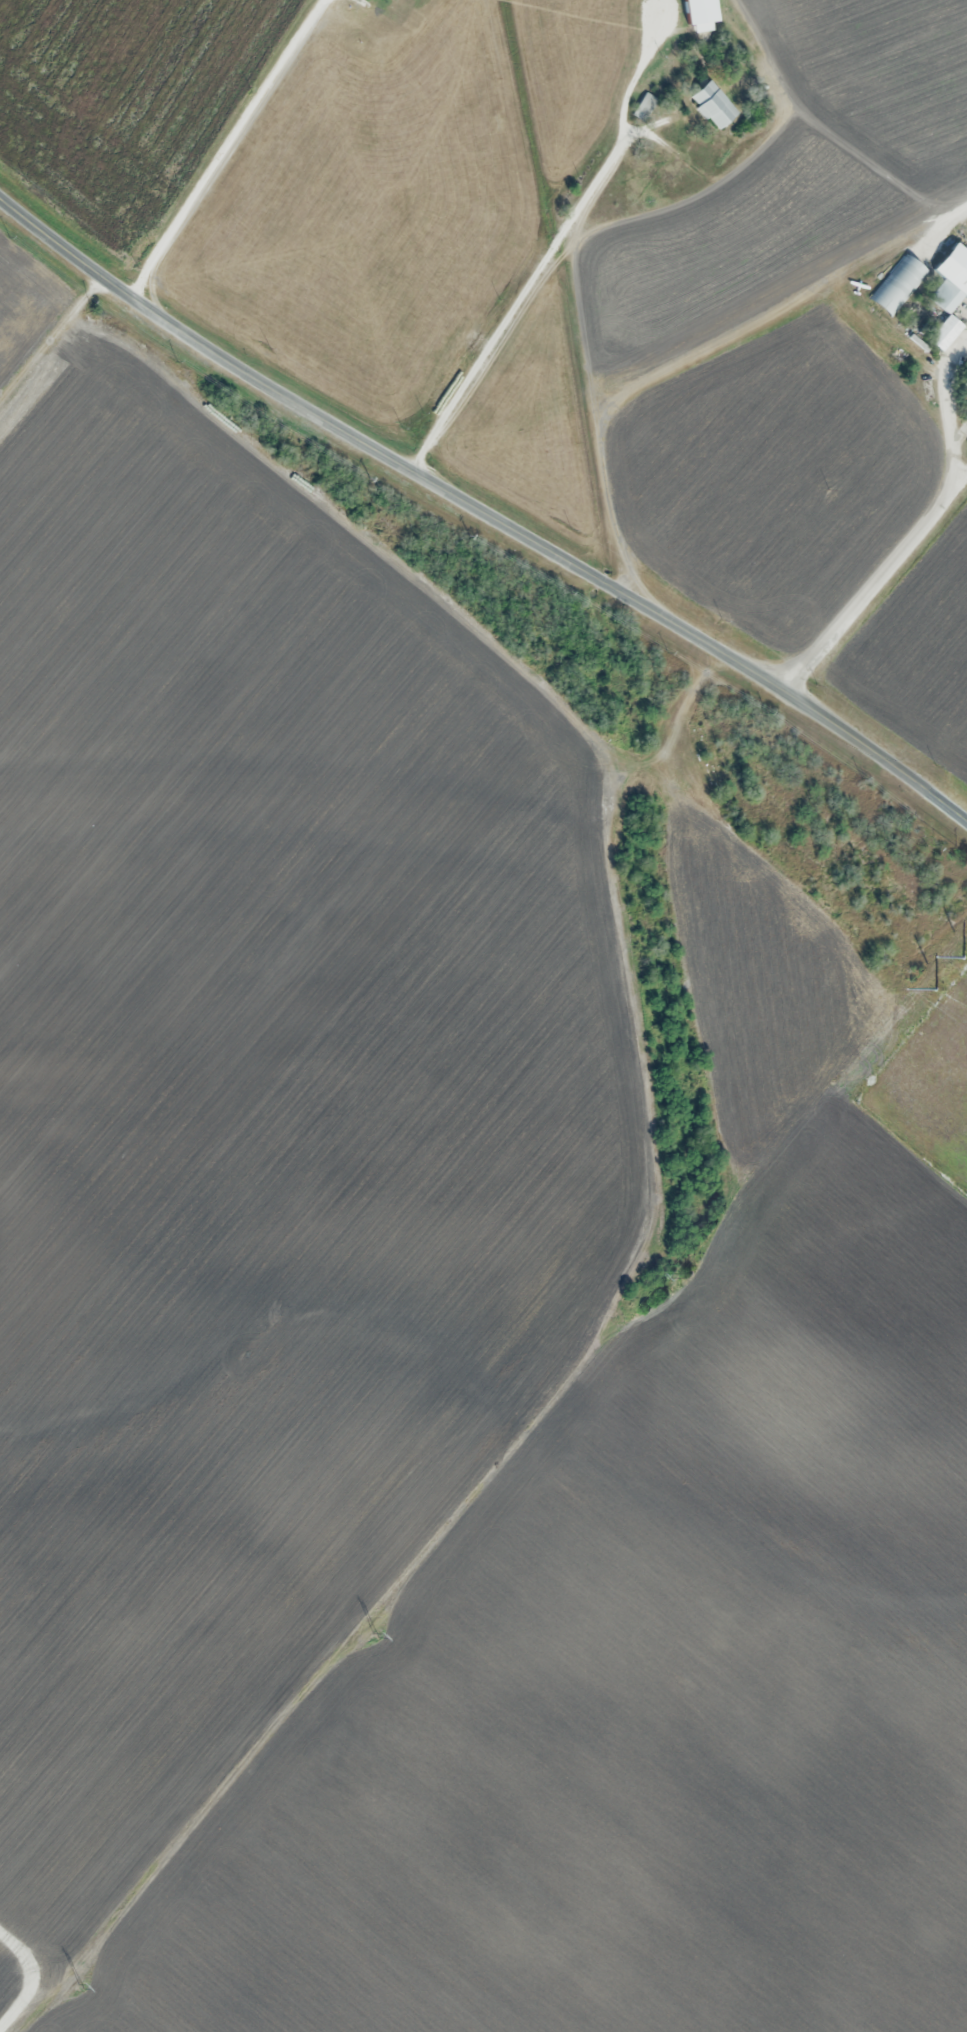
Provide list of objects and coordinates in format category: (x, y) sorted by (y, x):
building: (712, 106)
road: (223, 148)
road: (645, 209)
building: (897, 284)
building: (949, 293)
road: (583, 323)
road: (698, 349)
building: (965, 379)
road: (948, 410)
building: (965, 416)
road: (482, 513)
road: (872, 582)
power tower: (964, 957)
power tower: (936, 989)
power tower: (689, 1276)
power tower: (375, 1633)
power tower: (81, 1987)

